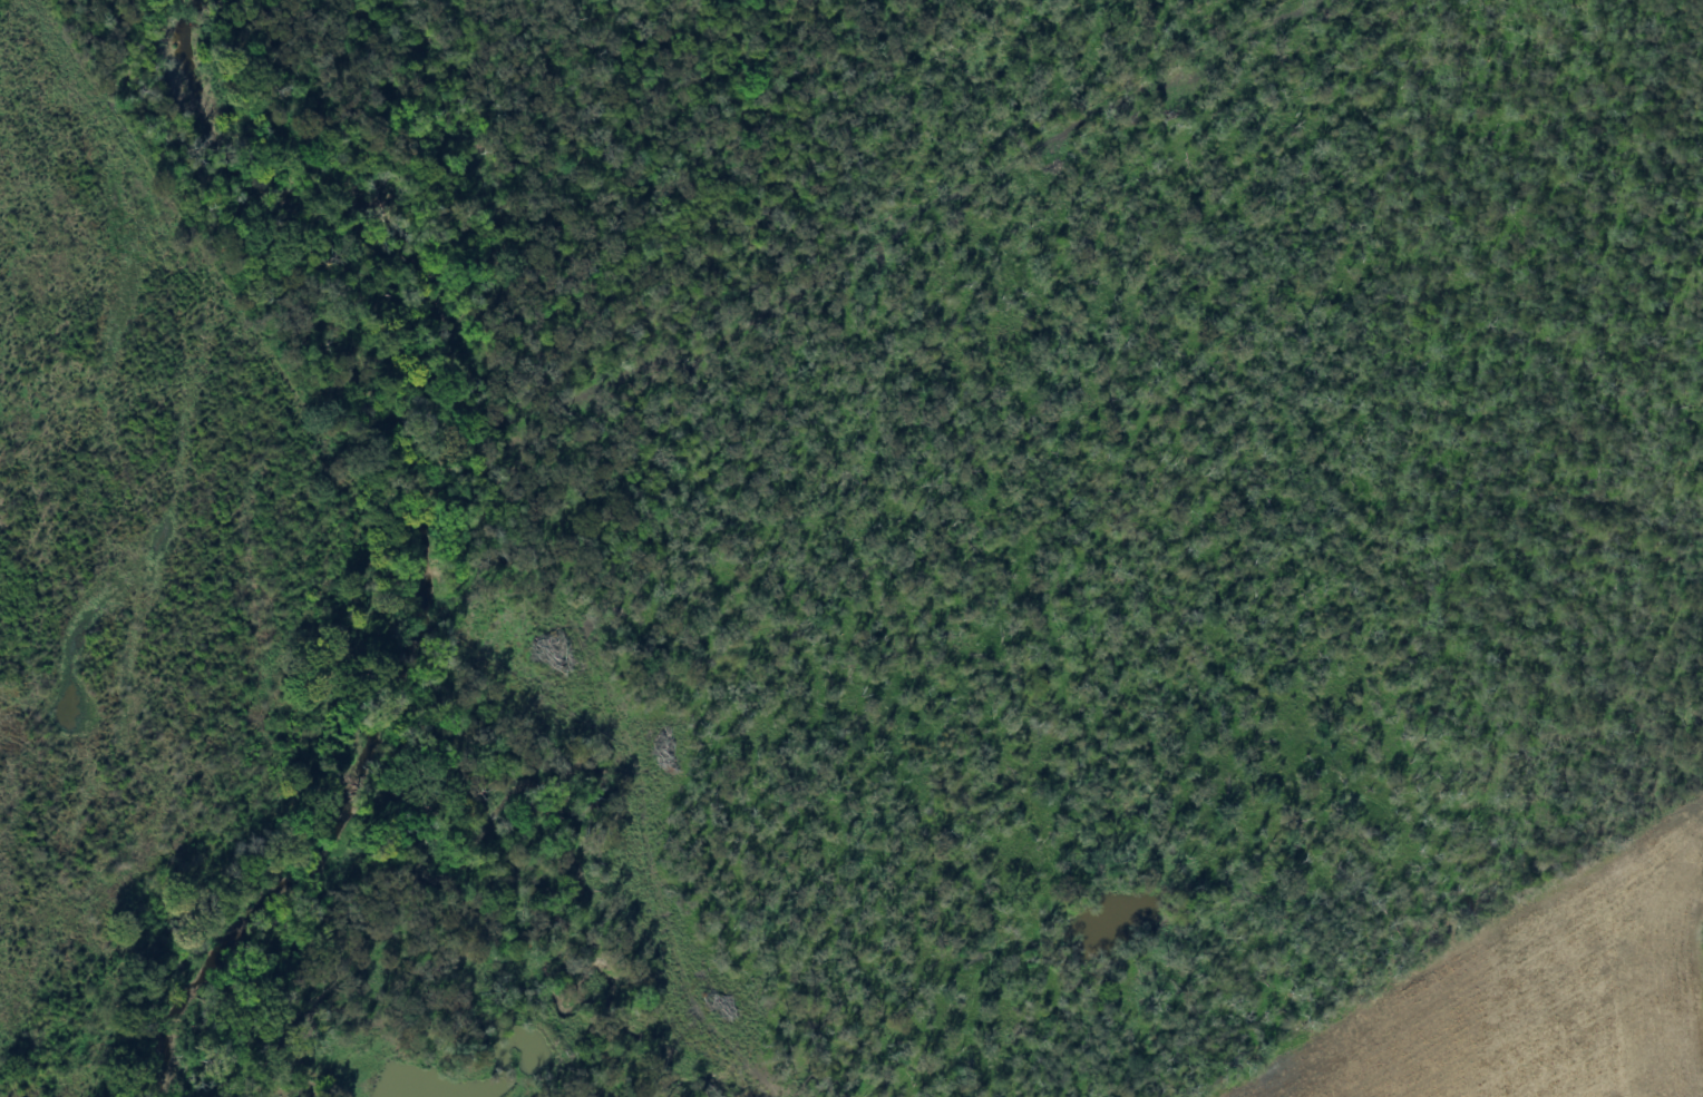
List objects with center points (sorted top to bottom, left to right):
road: (1526, 963)

